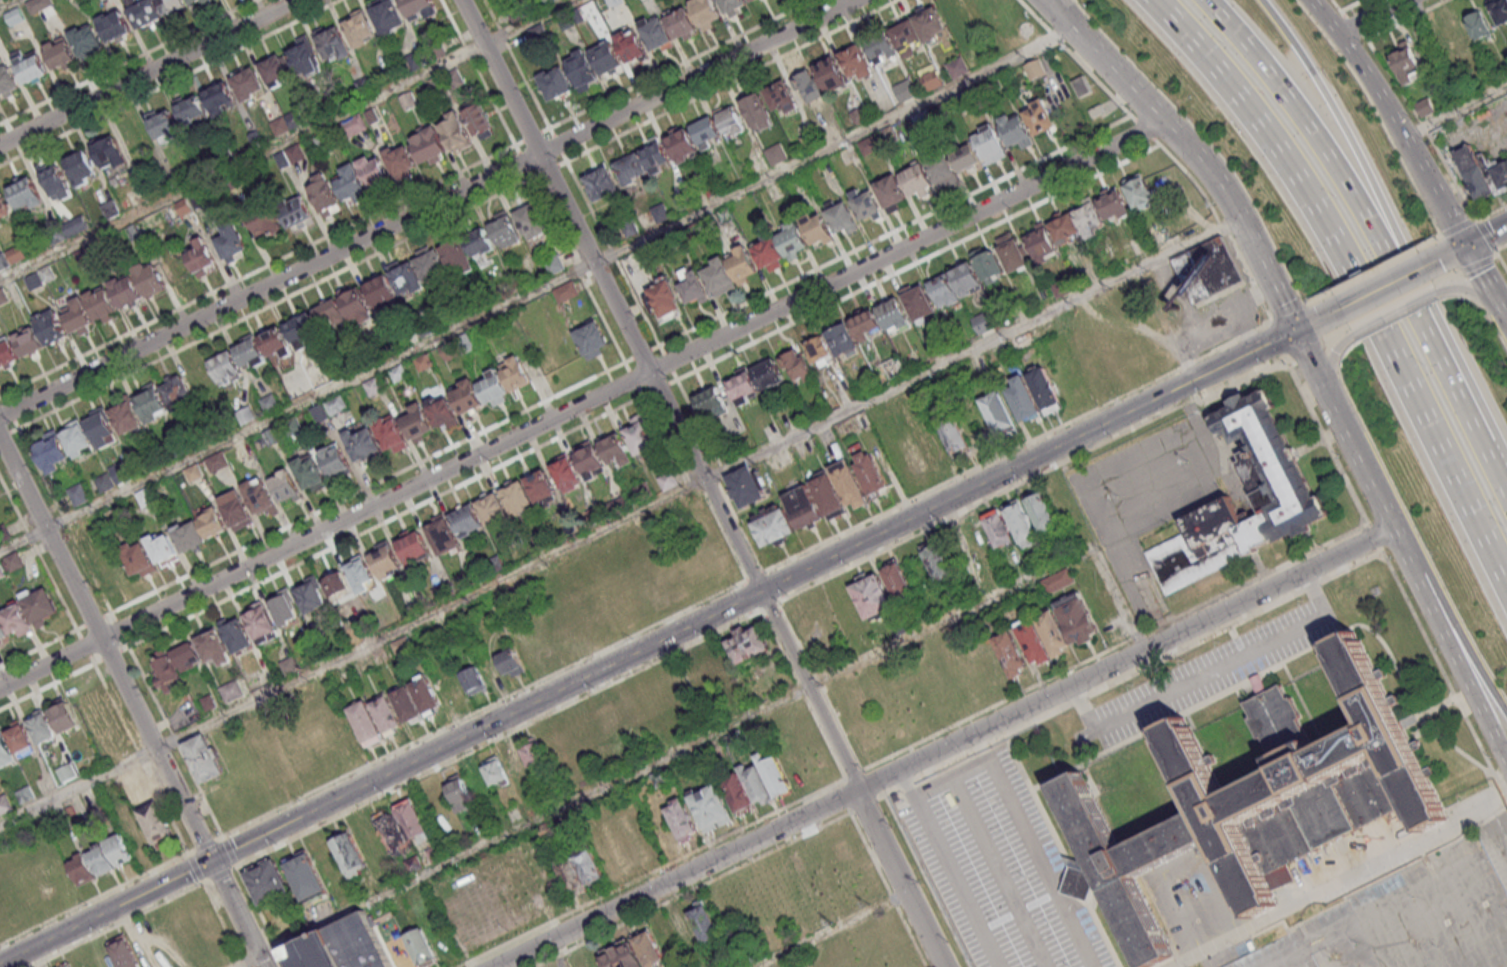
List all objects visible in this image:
building: (751, 0)
building: (195, 1)
road: (8, 4)
building: (732, 4)
building: (38, 5)
building: (171, 5)
road: (1352, 5)
road: (1338, 7)
building: (420, 9)
building: (705, 11)
building: (144, 12)
building: (953, 12)
building: (1499, 12)
building: (387, 15)
road: (1370, 15)
building: (681, 22)
building: (114, 24)
road: (1355, 27)
building: (931, 28)
building: (359, 29)
building: (1478, 29)
building: (1453, 33)
building: (656, 34)
building: (87, 38)
building: (906, 40)
building: (333, 43)
building: (879, 44)
building: (630, 45)
building: (59, 52)
building: (304, 55)
building: (607, 57)
building: (853, 58)
road: (128, 62)
road: (516, 63)
road: (679, 63)
building: (31, 66)
building: (1407, 66)
building: (581, 68)
building: (958, 69)
building: (276, 70)
road: (146, 71)
building: (831, 73)
building: (7, 79)
building: (931, 79)
road: (168, 82)
building: (556, 82)
building: (248, 83)
building: (1083, 88)
building: (904, 90)
building: (779, 94)
building: (220, 96)
road: (1409, 105)
building: (754, 106)
building: (191, 108)
building: (1425, 109)
road: (1457, 114)
building: (1039, 116)
building: (730, 119)
building: (479, 121)
building: (164, 124)
building: (355, 124)
road: (1401, 128)
building: (705, 130)
building: (1016, 130)
building: (454, 131)
parking lot: (1481, 131)
road: (288, 139)
building: (681, 143)
building: (990, 143)
building: (428, 145)
road: (1162, 149)
road: (1190, 150)
building: (108, 152)
building: (776, 153)
building: (655, 155)
building: (965, 158)
building: (400, 160)
building: (81, 167)
building: (630, 167)
building: (374, 170)
building: (1482, 177)
building: (55, 180)
building: (917, 180)
building: (351, 182)
building: (601, 183)
road: (557, 184)
building: (1137, 189)
building: (24, 192)
building: (890, 192)
building: (324, 194)
building: (136, 197)
building: (866, 204)
building: (1113, 204)
building: (5, 205)
road: (427, 207)
building: (109, 209)
building: (296, 211)
building: (660, 212)
road: (1358, 212)
road: (1384, 216)
building: (842, 218)
building: (530, 219)
building: (264, 223)
building: (628, 227)
building: (1065, 228)
road: (1460, 229)
building: (506, 230)
building: (818, 230)
road: (329, 235)
road: (1487, 235)
building: (792, 238)
building: (478, 241)
road: (1470, 241)
building: (231, 243)
building: (1041, 243)
building: (767, 251)
building: (1013, 254)
road: (1498, 255)
building: (200, 256)
building: (457, 256)
road: (916, 262)
building: (740, 263)
road: (1478, 263)
building: (989, 265)
building: (430, 266)
road: (1374, 271)
building: (1208, 273)
building: (717, 275)
building: (965, 277)
building: (149, 278)
building: (407, 278)
road: (1353, 278)
road: (560, 280)
road: (1380, 287)
road: (1470, 289)
building: (125, 290)
building: (380, 290)
building: (692, 290)
building: (943, 290)
building: (567, 291)
road: (1493, 292)
building: (663, 300)
building: (918, 301)
road: (275, 302)
building: (99, 303)
building: (355, 303)
road: (1391, 306)
road: (1395, 311)
road: (1287, 312)
building: (892, 313)
building: (77, 314)
building: (331, 315)
road: (705, 319)
road: (1310, 321)
building: (982, 323)
building: (866, 325)
building: (53, 328)
traffic signals: (1295, 329)
building: (303, 330)
building: (841, 338)
building: (27, 339)
building: (592, 339)
road: (1277, 339)
building: (274, 342)
road: (972, 349)
road: (1306, 349)
building: (250, 350)
building: (819, 351)
building: (6, 352)
road: (1331, 360)
building: (797, 365)
building: (225, 366)
building: (515, 372)
building: (768, 374)
building: (373, 386)
building: (493, 387)
building: (742, 387)
building: (1043, 387)
building: (177, 393)
road: (1, 395)
building: (467, 396)
building: (1022, 398)
building: (151, 401)
building: (710, 402)
road: (581, 404)
building: (441, 411)
building: (997, 411)
road: (10, 412)
building: (126, 415)
building: (417, 424)
building: (100, 426)
road: (9, 433)
building: (391, 434)
building: (953, 434)
building: (640, 436)
building: (76, 437)
road: (1326, 437)
road: (460, 441)
building: (363, 443)
road: (1016, 448)
building: (52, 449)
building: (616, 449)
road: (1354, 450)
building: (911, 455)
building: (589, 460)
building: (335, 461)
road: (1494, 469)
building: (566, 472)
building: (309, 473)
building: (869, 473)
road: (481, 474)
road: (718, 477)
road: (1030, 478)
building: (539, 485)
building: (746, 485)
building: (1278, 485)
building: (78, 494)
parking lot: (1144, 494)
building: (825, 495)
building: (259, 496)
building: (517, 496)
building: (492, 508)
building: (236, 509)
building: (1042, 513)
building: (466, 519)
road: (64, 522)
building: (772, 525)
building: (1009, 526)
building: (200, 529)
building: (442, 534)
road: (1374, 536)
road: (21, 539)
building: (413, 545)
building: (162, 547)
road: (38, 554)
building: (383, 557)
building: (137, 558)
building: (937, 561)
building: (359, 572)
road: (754, 576)
road: (756, 578)
building: (897, 580)
building: (1057, 580)
road: (777, 583)
building: (336, 584)
building: (311, 594)
building: (870, 595)
road: (747, 599)
building: (39, 605)
road: (769, 607)
building: (284, 608)
road: (441, 609)
building: (16, 618)
building: (1076, 618)
road: (95, 621)
building: (260, 623)
building: (3, 629)
road: (120, 630)
building: (1042, 637)
road: (1462, 640)
building: (547, 643)
building: (746, 645)
road: (1114, 645)
building: (213, 646)
road: (647, 646)
road: (85, 647)
road: (39, 648)
building: (1011, 654)
road: (110, 656)
road: (1124, 657)
road: (1288, 658)
building: (510, 662)
road: (1461, 667)
building: (720, 670)
road: (1207, 670)
building: (165, 672)
road: (1132, 672)
parking lot: (1209, 672)
road: (1444, 675)
building: (473, 680)
building: (1257, 683)
road: (819, 686)
road: (802, 695)
road: (132, 703)
building: (393, 711)
road: (117, 712)
building: (63, 717)
building: (610, 723)
building: (41, 726)
road: (725, 728)
building: (20, 739)
building: (573, 743)
road: (979, 747)
building: (5, 751)
building: (532, 753)
road: (389, 755)
building: (203, 757)
road: (448, 763)
building: (517, 768)
road: (969, 769)
building: (494, 770)
building: (67, 771)
road: (852, 774)
building: (660, 778)
road: (87, 782)
road: (905, 782)
building: (755, 783)
road: (870, 783)
building: (140, 792)
building: (458, 793)
building: (1247, 795)
road: (846, 796)
road: (866, 803)
building: (5, 804)
building: (709, 807)
building: (1323, 813)
road: (1485, 815)
building: (680, 818)
building: (155, 822)
building: (401, 829)
road: (205, 845)
building: (626, 848)
building: (117, 849)
road: (229, 851)
road: (1061, 851)
building: (349, 855)
building: (100, 859)
traffic signals: (210, 860)
road: (195, 867)
parking lot: (999, 867)
building: (81, 868)
building: (579, 870)
road: (651, 873)
road: (219, 874)
building: (304, 875)
road: (900, 877)
road: (674, 878)
building: (798, 878)
building: (266, 880)
road: (926, 881)
road: (888, 889)
road: (692, 890)
road: (94, 898)
road: (159, 903)
parking lot: (1411, 919)
building: (694, 927)
road: (830, 929)
building: (359, 943)
building: (421, 947)
building: (124, 953)
building: (316, 953)
building: (634, 953)
building: (403, 959)
road: (243, 960)
road: (1164, 962)
building: (68, 966)

